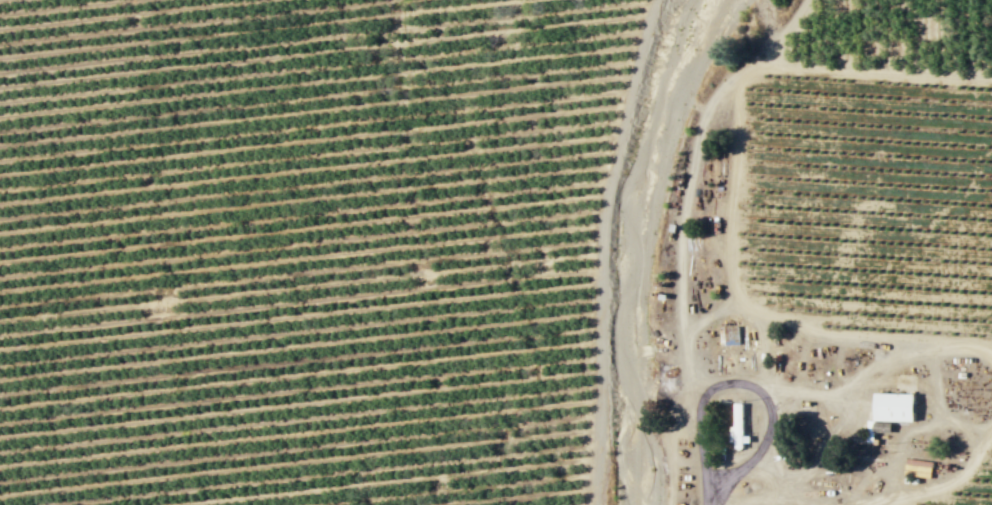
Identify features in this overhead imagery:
road: (603, 249)
road: (752, 312)
building: (731, 335)
building: (892, 407)
building: (918, 467)
road: (935, 489)

